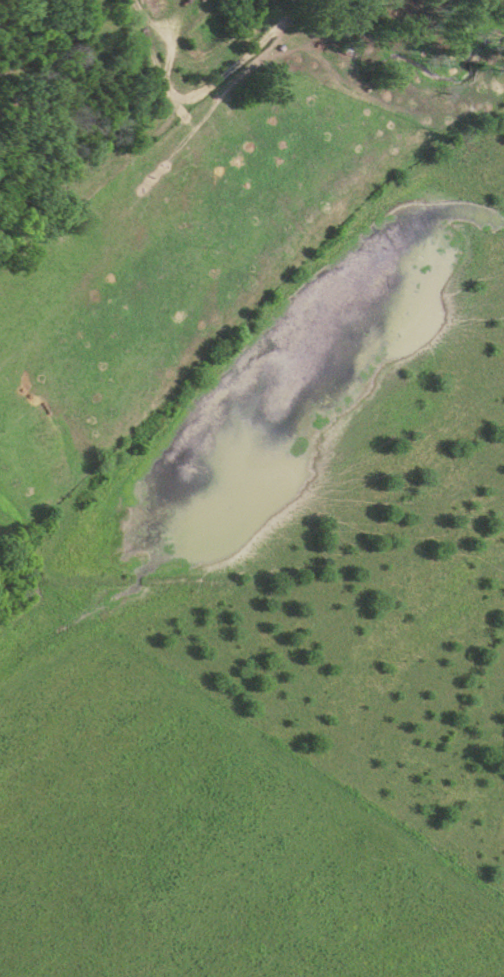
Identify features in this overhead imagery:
road: (155, 56)
road: (150, 137)

